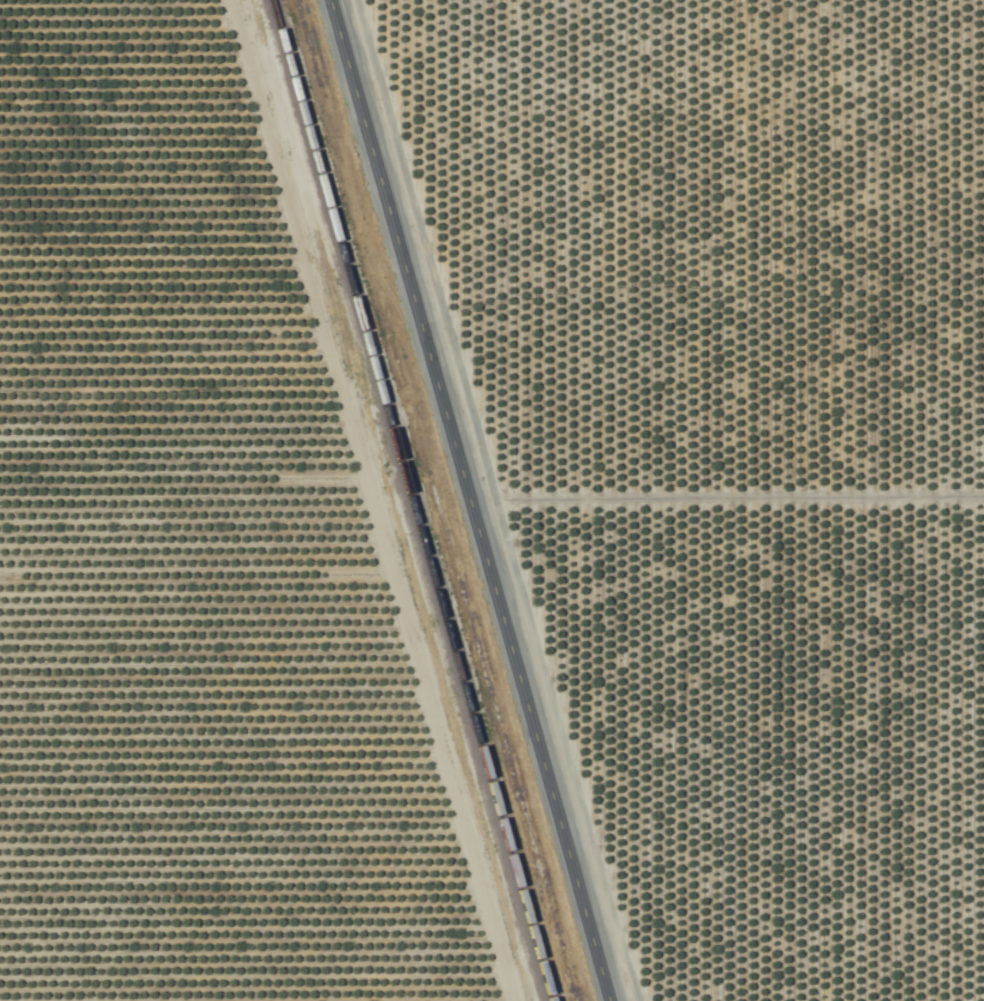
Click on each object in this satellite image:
railway: (406, 500)
road: (464, 500)
crop: (492, 500)

